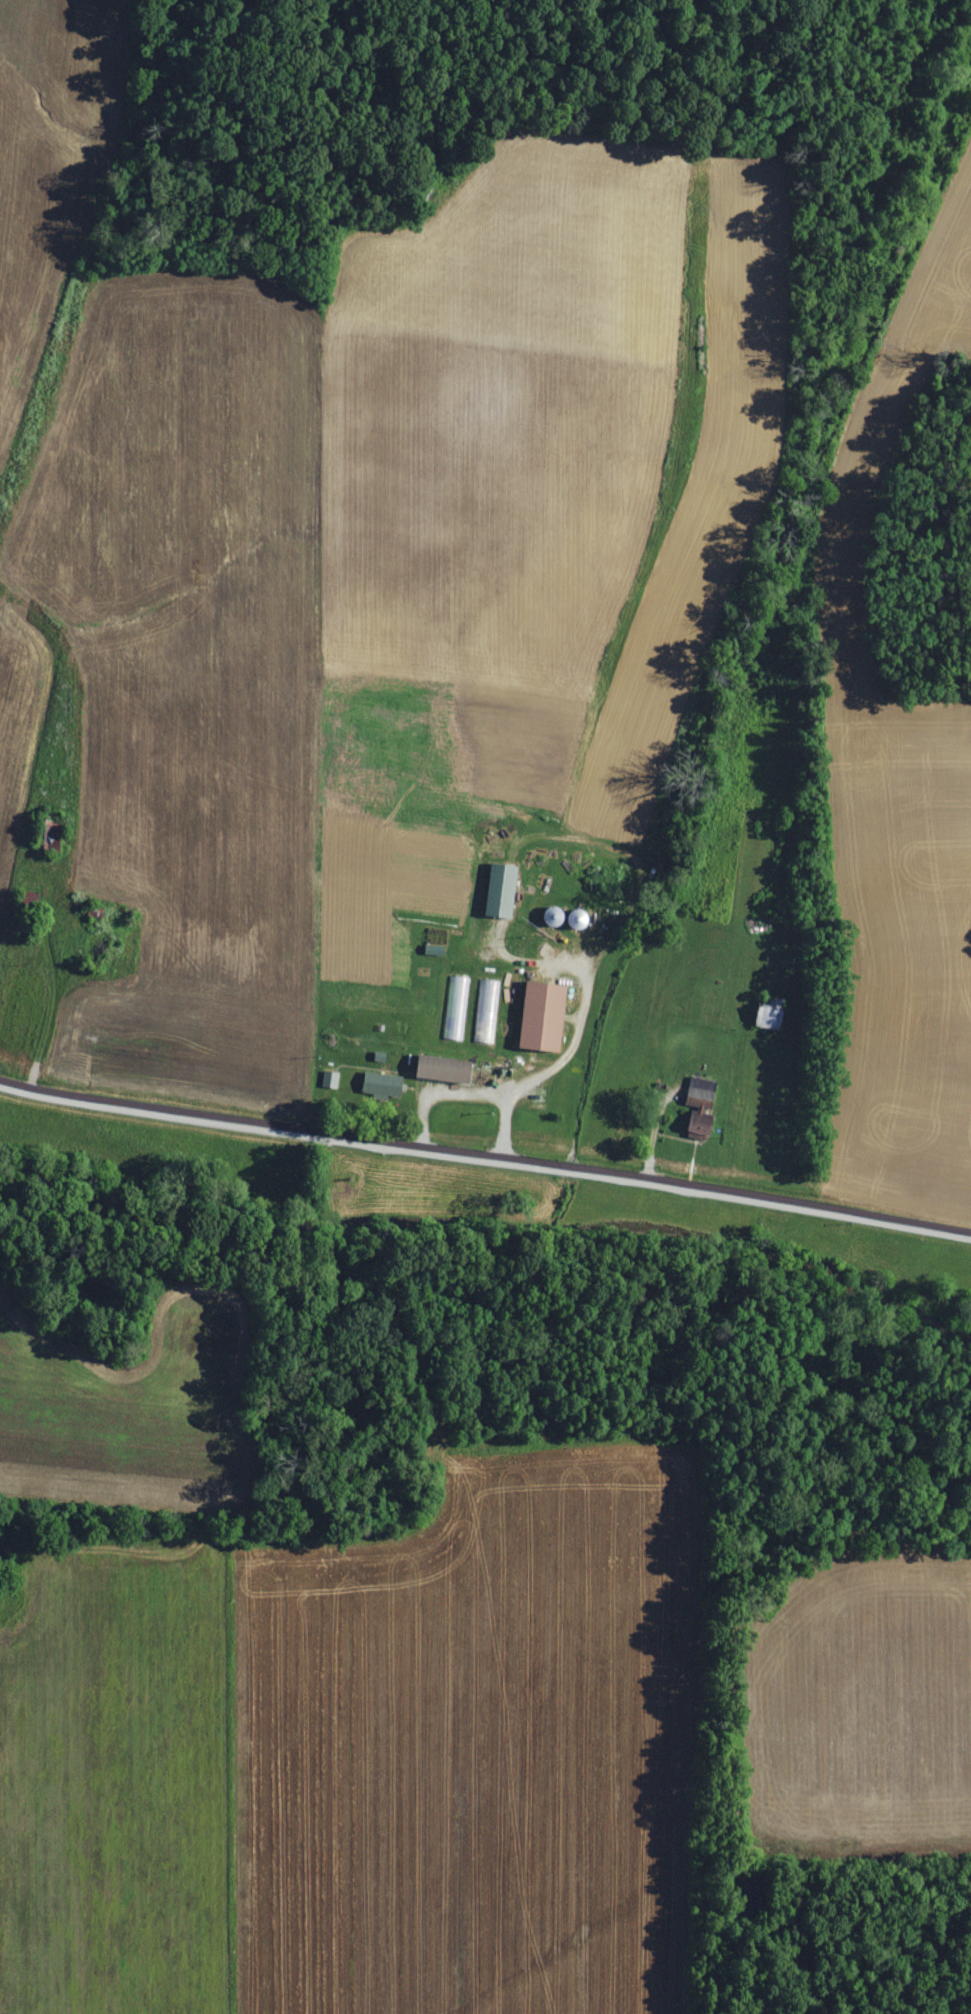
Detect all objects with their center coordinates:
building: (502, 890)
road: (57, 983)
building: (472, 989)
building: (487, 999)
building: (543, 1016)
road: (568, 1057)
building: (445, 1069)
building: (330, 1079)
building: (383, 1085)
building: (700, 1107)
road: (485, 1157)

